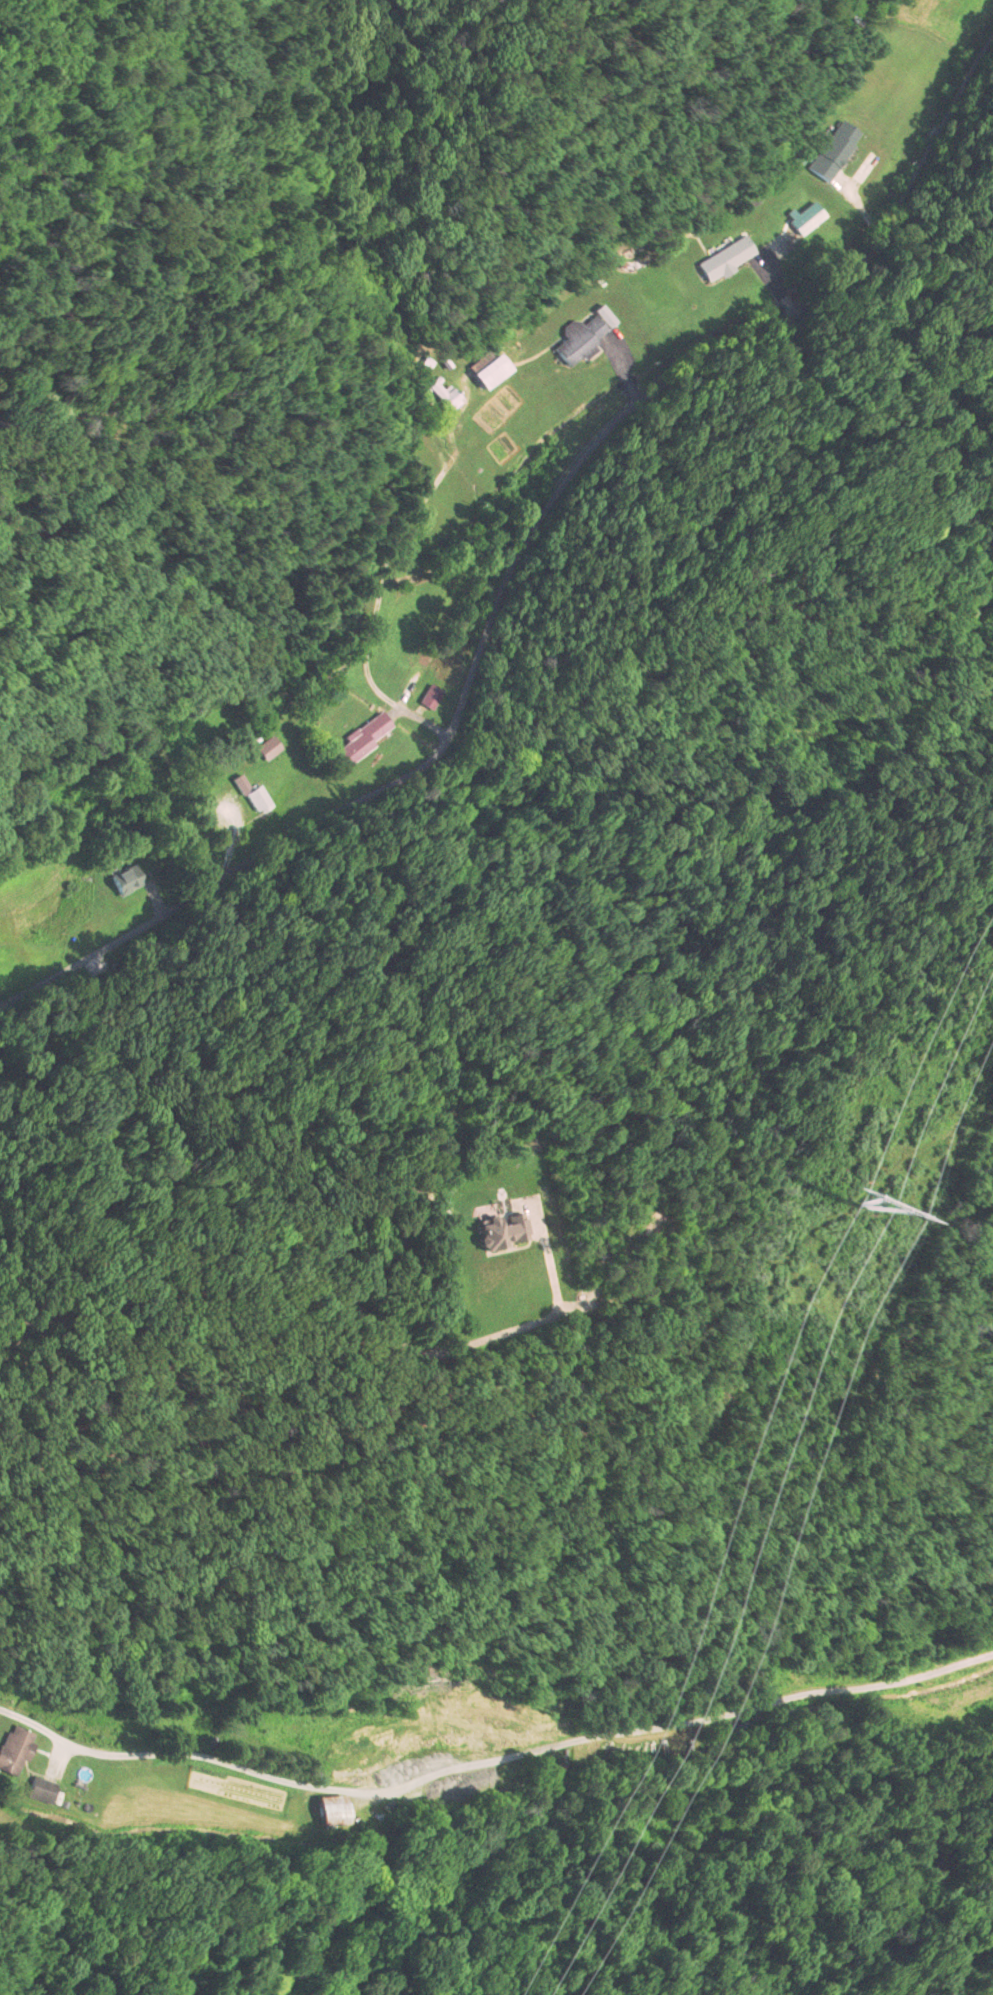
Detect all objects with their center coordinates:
building: (834, 150)
building: (804, 220)
building: (725, 258)
building: (579, 339)
building: (490, 371)
building: (444, 394)
road: (515, 550)
building: (415, 675)
building: (430, 697)
building: (360, 741)
building: (268, 748)
building: (253, 795)
building: (125, 879)
power tower: (852, 1210)
building: (502, 1229)
building: (13, 1749)
road: (128, 1753)
building: (40, 1789)
building: (330, 1808)

